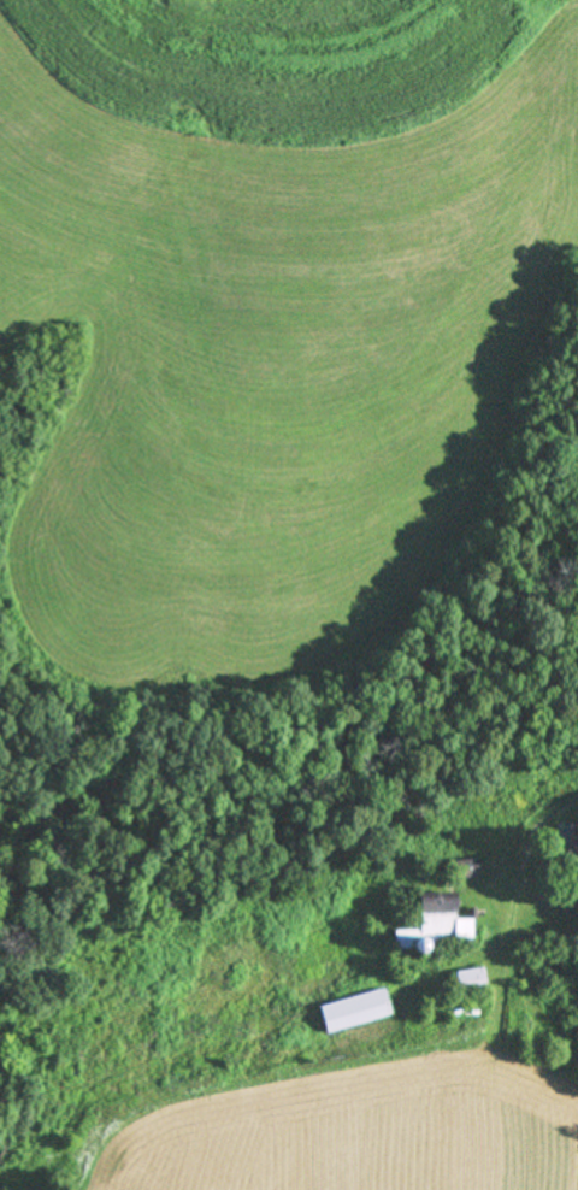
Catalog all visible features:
building: (565, 844)
building: (465, 867)
building: (436, 925)
building: (470, 979)
building: (352, 1009)

